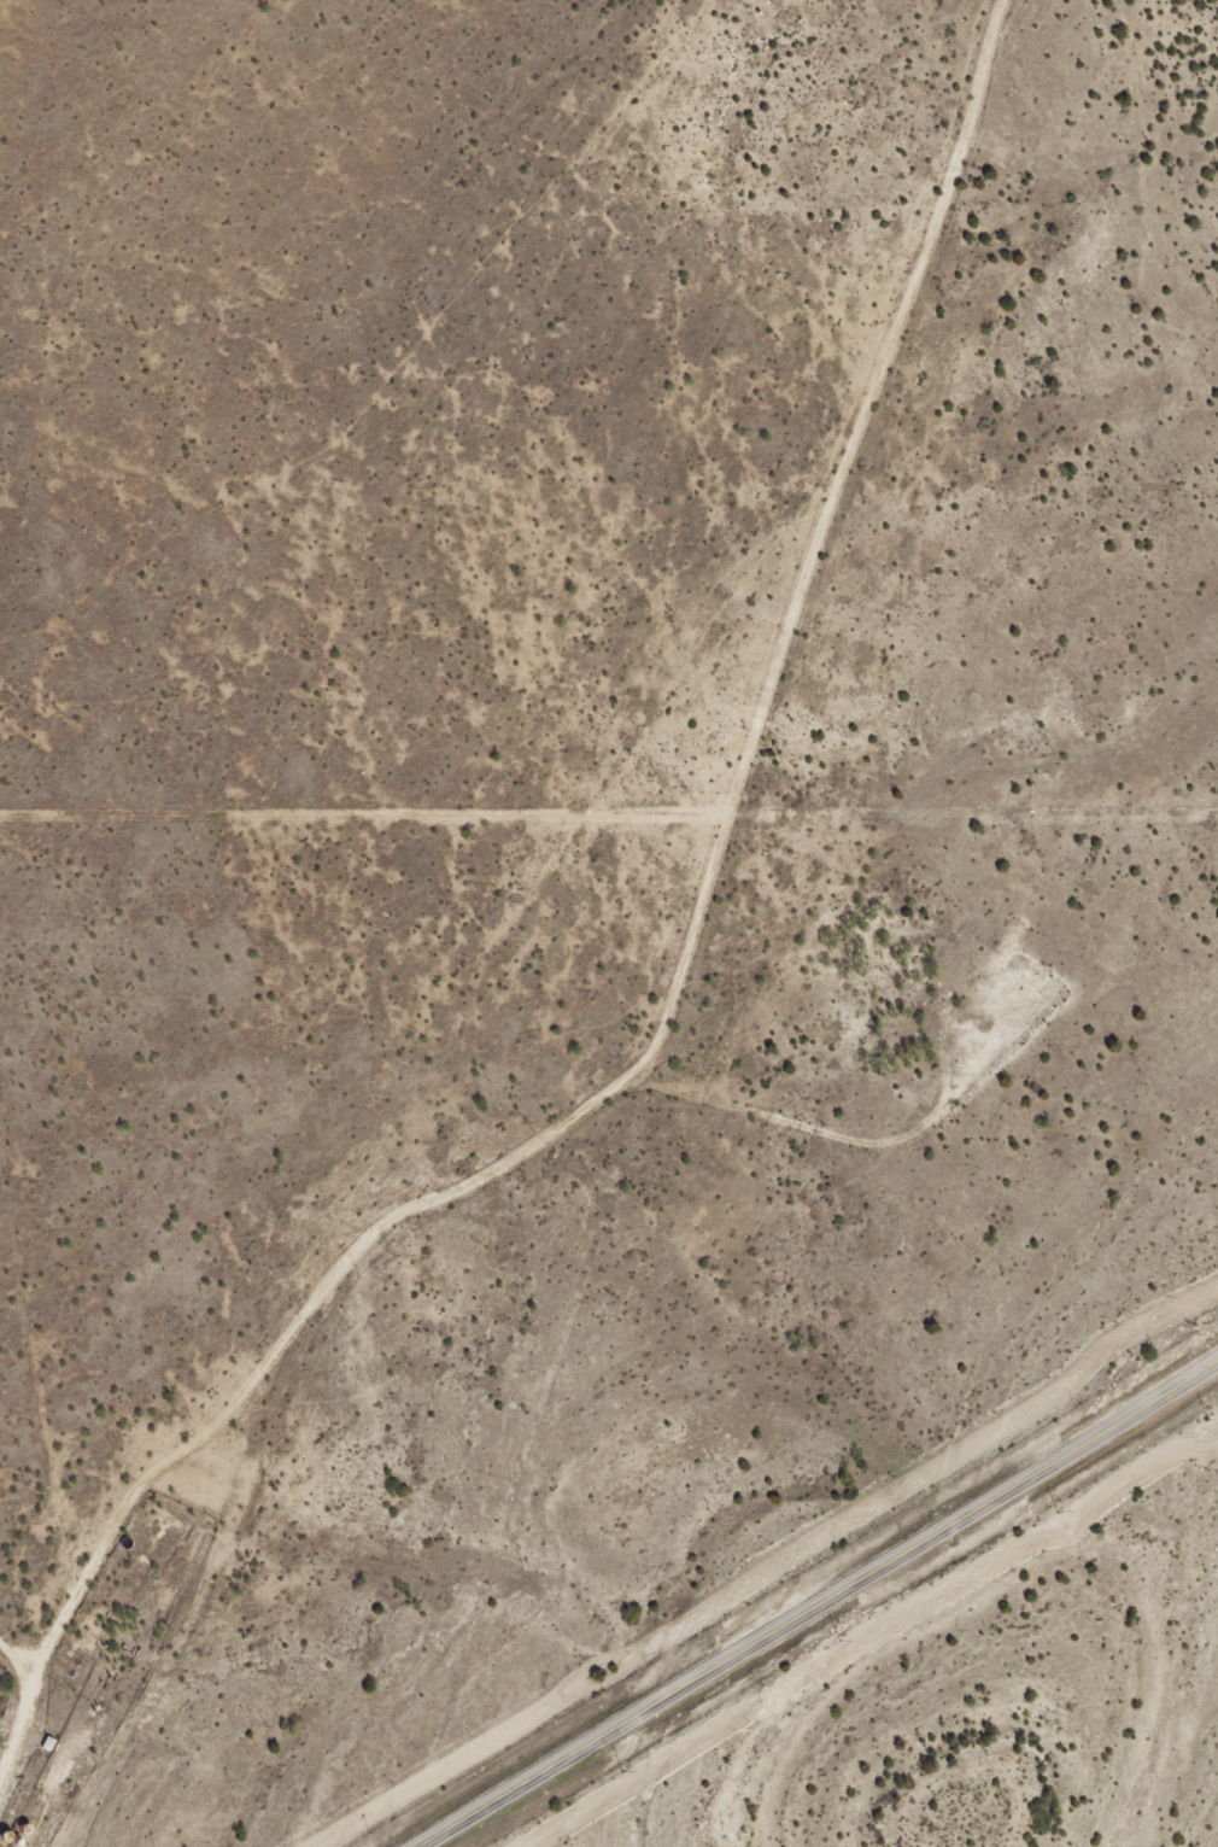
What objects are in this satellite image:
road: (686, 942)
power tower: (1205, 1422)
power tower: (1054, 1514)
road: (819, 1605)
power tower: (838, 1643)
road: (24, 1708)
power tower: (619, 1773)

